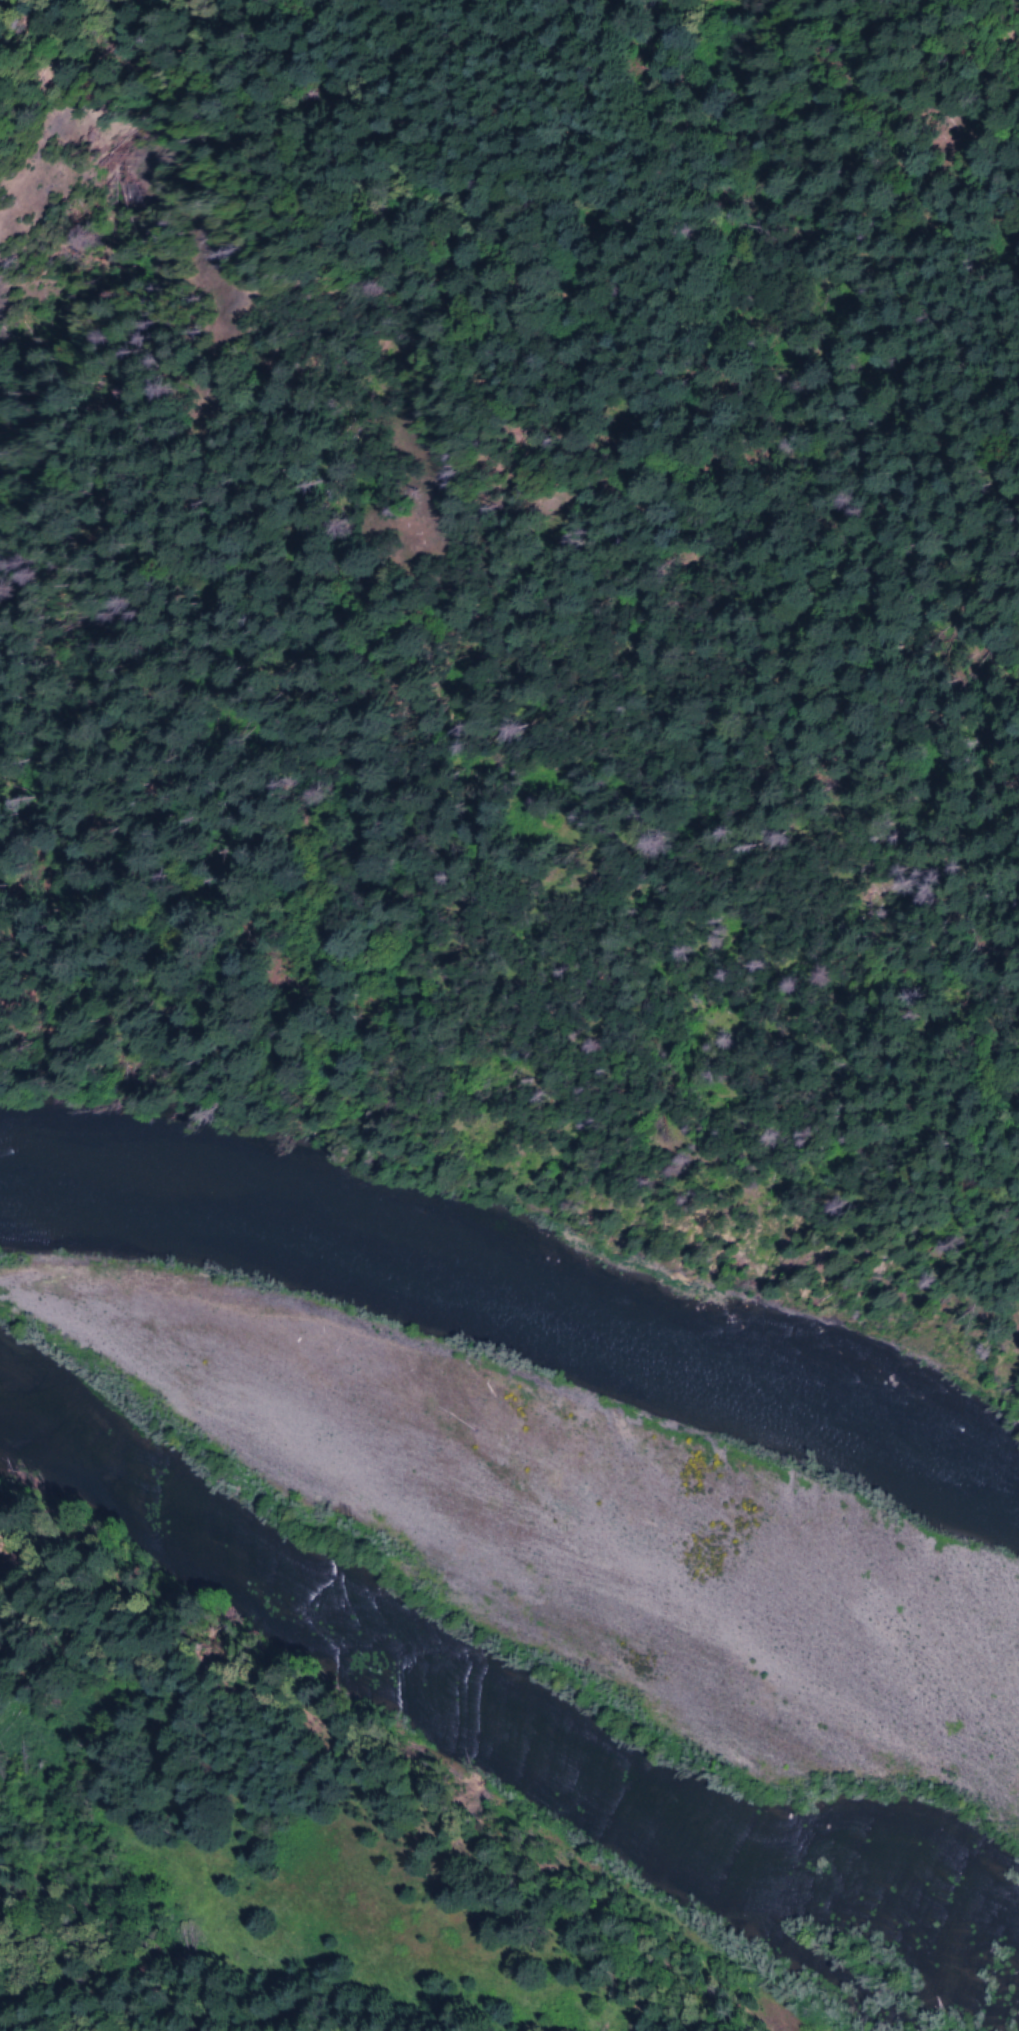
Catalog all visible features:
road: (493, 997)
river: (497, 1693)

